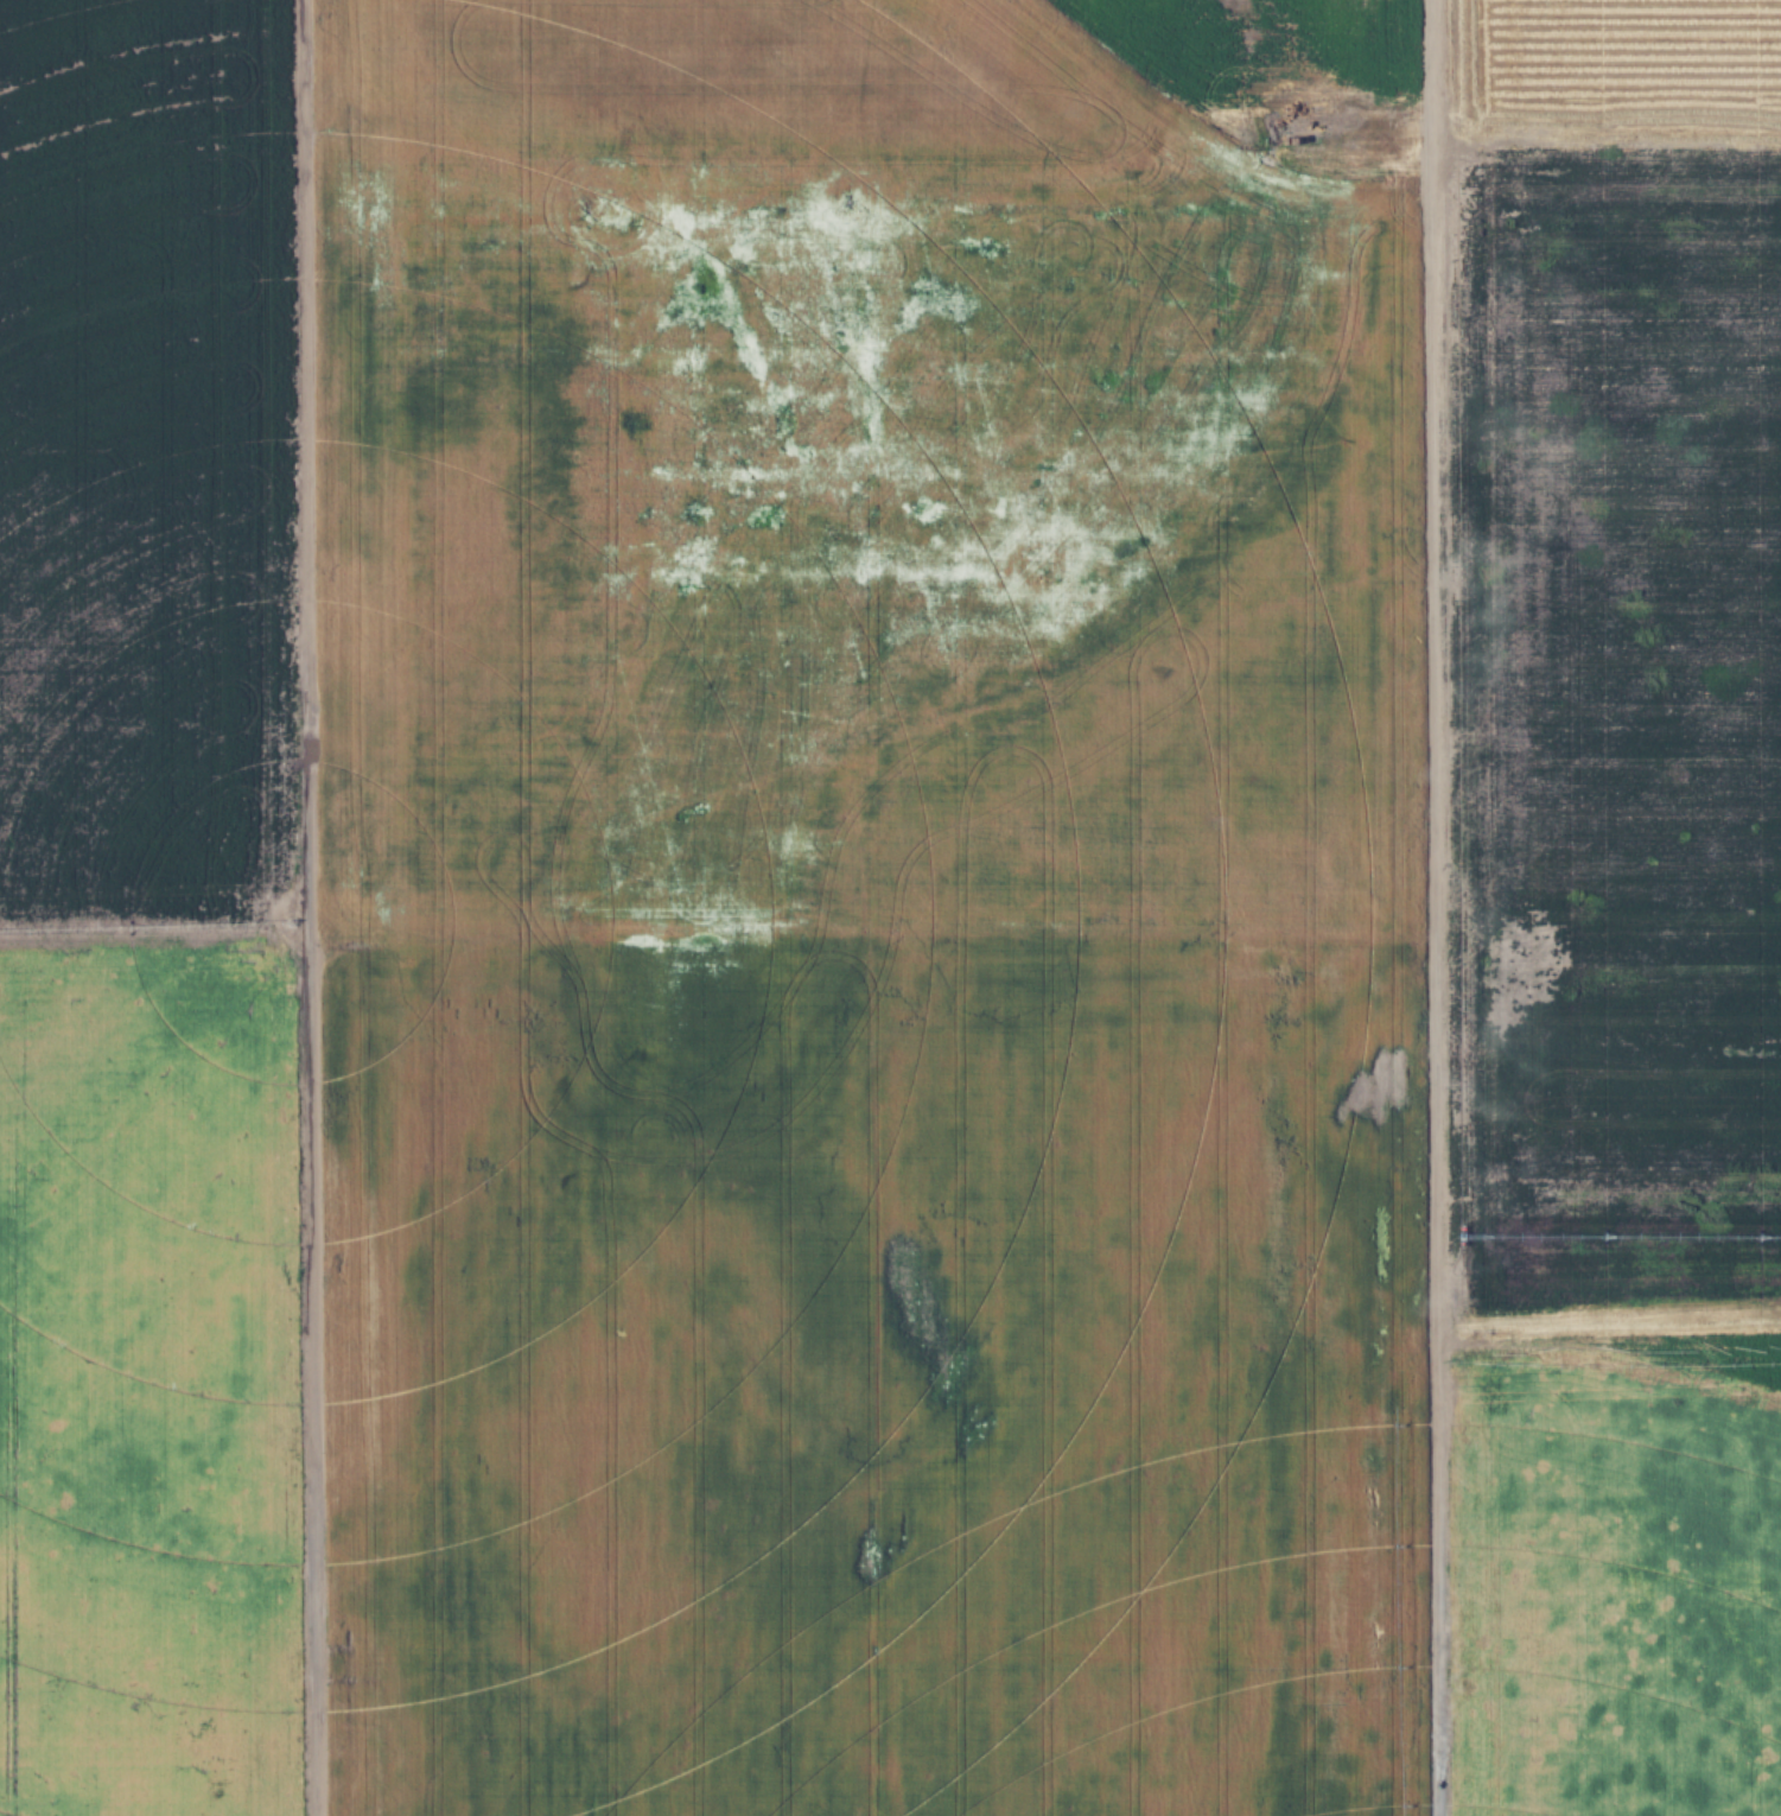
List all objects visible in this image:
crop: (1605, 1581)

